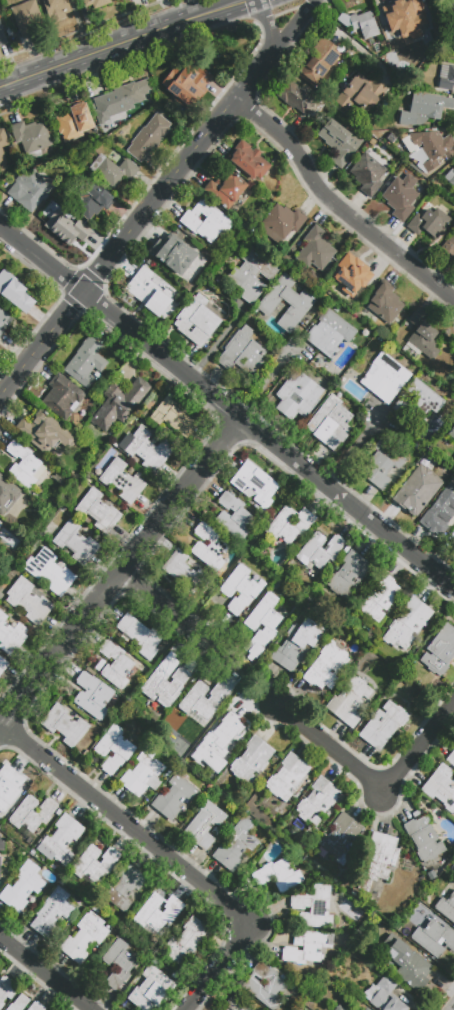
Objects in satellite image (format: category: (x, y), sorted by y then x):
building: (113, 0)
building: (430, 0)
building: (96, 3)
building: (451, 6)
building: (58, 9)
building: (25, 16)
building: (406, 17)
building: (363, 24)
road: (269, 29)
road: (291, 30)
building: (2, 36)
road: (344, 37)
road: (121, 44)
building: (453, 54)
building: (319, 61)
building: (446, 77)
building: (185, 86)
building: (359, 94)
building: (121, 99)
building: (298, 100)
building: (424, 109)
building: (72, 124)
building: (149, 137)
building: (31, 138)
building: (339, 143)
building: (2, 145)
building: (427, 147)
building: (248, 161)
building: (113, 170)
building: (368, 174)
road: (174, 176)
building: (450, 177)
building: (226, 188)
building: (29, 190)
building: (401, 197)
building: (90, 200)
road: (337, 209)
building: (205, 222)
building: (246, 223)
building: (281, 223)
building: (429, 223)
building: (66, 228)
building: (447, 249)
building: (314, 250)
building: (180, 258)
road: (41, 259)
building: (252, 274)
building: (353, 278)
building: (14, 292)
building: (150, 292)
building: (300, 303)
building: (384, 303)
building: (4, 320)
building: (196, 321)
building: (329, 334)
road: (221, 335)
building: (422, 336)
road: (41, 344)
building: (241, 354)
road: (10, 363)
building: (85, 363)
road: (265, 376)
building: (384, 378)
building: (62, 397)
building: (297, 397)
building: (119, 403)
building: (418, 404)
building: (173, 418)
building: (330, 423)
building: (44, 432)
building: (450, 433)
road: (267, 442)
road: (353, 448)
building: (144, 450)
building: (381, 465)
building: (25, 466)
building: (453, 466)
building: (122, 481)
building: (254, 483)
building: (416, 492)
building: (6, 497)
street lamp: (392, 508)
building: (440, 508)
building: (98, 511)
building: (233, 517)
building: (1, 524)
building: (289, 525)
building: (76, 543)
building: (452, 543)
building: (209, 548)
building: (320, 550)
building: (49, 571)
road: (122, 572)
building: (184, 573)
building: (349, 577)
building: (276, 584)
building: (241, 589)
building: (379, 598)
building: (28, 600)
street lamp: (441, 605)
road: (174, 611)
building: (262, 624)
building: (407, 624)
building: (10, 635)
building: (139, 637)
building: (296, 644)
building: (440, 651)
building: (115, 664)
building: (3, 665)
building: (326, 667)
building: (165, 686)
building: (92, 697)
building: (349, 701)
building: (200, 703)
building: (64, 725)
building: (383, 725)
building: (223, 734)
building: (114, 749)
building: (451, 759)
building: (253, 760)
building: (143, 775)
building: (287, 777)
road: (374, 784)
building: (9, 786)
building: (441, 787)
building: (174, 797)
building: (317, 800)
building: (31, 814)
building: (204, 824)
building: (60, 838)
building: (341, 838)
building: (423, 838)
building: (2, 845)
building: (236, 846)
road: (169, 858)
building: (378, 859)
building: (96, 867)
building: (0, 868)
building: (278, 875)
building: (22, 887)
building: (125, 889)
building: (313, 907)
building: (446, 908)
building: (51, 912)
building: (156, 913)
building: (84, 938)
building: (434, 938)
building: (187, 943)
building: (307, 947)
building: (404, 959)
building: (118, 964)
road: (45, 974)
building: (371, 984)
building: (266, 987)
building: (4, 988)
building: (149, 988)
building: (384, 995)
building: (18, 1003)
building: (236, 1004)
building: (35, 1007)
building: (224, 1008)
building: (339, 1008)
building: (364, 1008)
road: (453, 1008)
building: (367, 1009)

